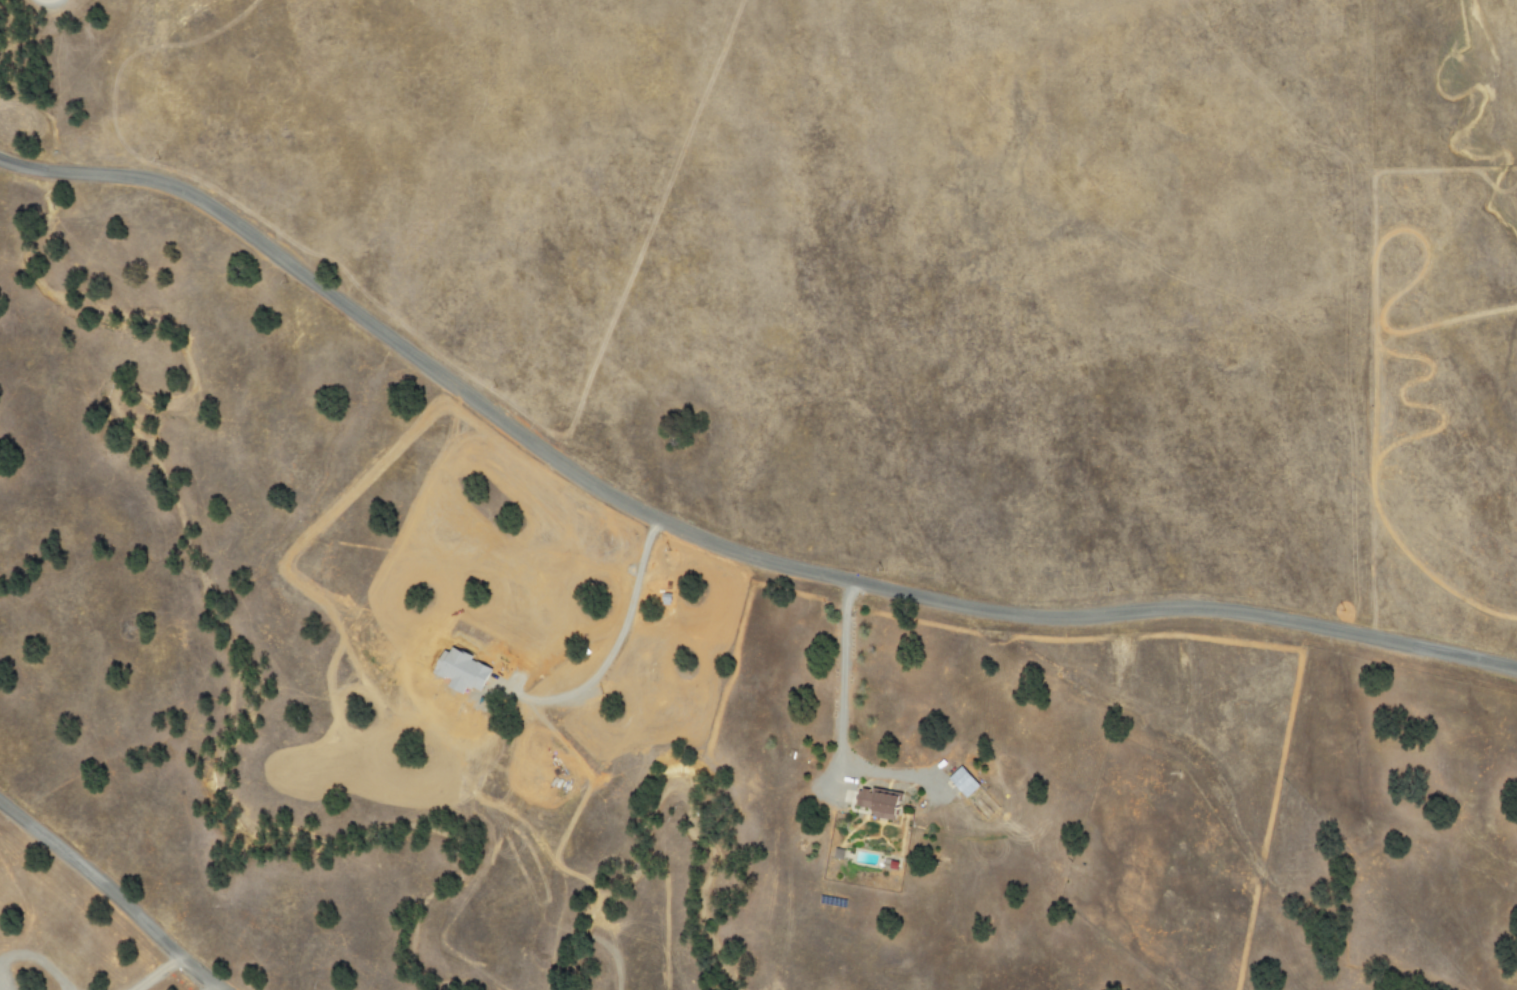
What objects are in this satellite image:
road: (710, 544)
road: (618, 638)
building: (463, 669)
road: (837, 704)
building: (963, 780)
building: (879, 802)
building: (838, 852)
road: (114, 891)
road: (154, 971)
road: (210, 986)

